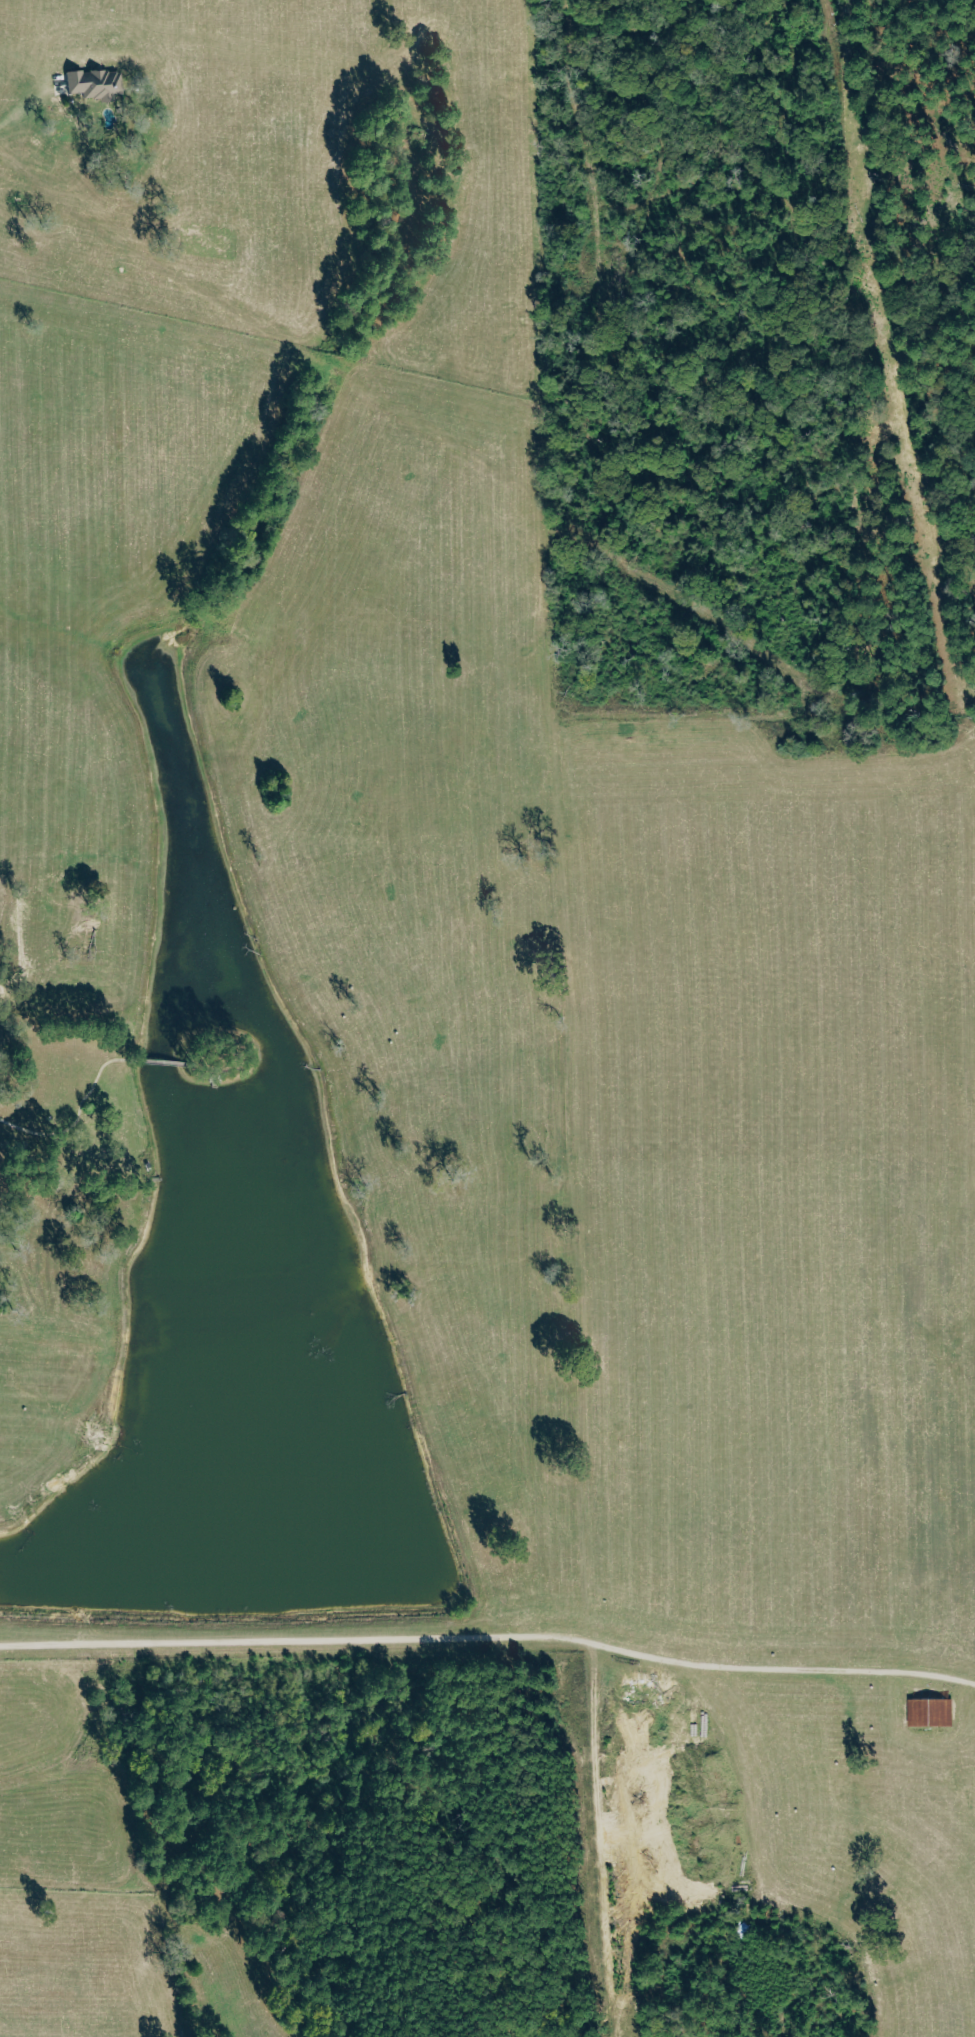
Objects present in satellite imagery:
building: (97, 84)
road: (7, 121)
building: (932, 1713)

